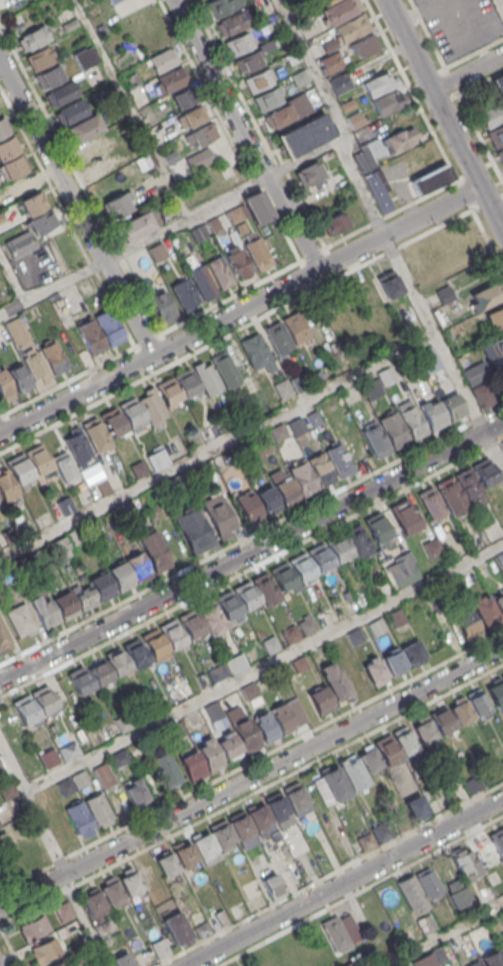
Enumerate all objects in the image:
building: (115, 1)
building: (326, 2)
building: (222, 6)
road: (499, 6)
building: (340, 11)
building: (114, 22)
building: (235, 22)
building: (273, 25)
building: (346, 31)
road: (428, 33)
building: (34, 37)
building: (240, 44)
building: (365, 45)
road: (474, 51)
building: (85, 57)
building: (292, 57)
building: (40, 58)
building: (163, 60)
building: (249, 61)
building: (331, 62)
road: (467, 72)
building: (50, 76)
building: (300, 77)
building: (171, 80)
building: (259, 80)
road: (481, 81)
building: (341, 82)
building: (378, 84)
building: (498, 84)
building: (62, 93)
building: (185, 97)
building: (268, 98)
building: (387, 102)
building: (348, 104)
road: (132, 109)
building: (71, 112)
road: (444, 115)
building: (492, 115)
building: (194, 116)
building: (278, 116)
building: (356, 120)
building: (3, 127)
building: (83, 129)
building: (204, 133)
building: (305, 134)
road: (246, 135)
building: (496, 135)
building: (400, 139)
building: (8, 147)
building: (500, 155)
building: (171, 156)
building: (200, 158)
building: (365, 159)
building: (13, 166)
building: (309, 172)
building: (430, 179)
building: (23, 186)
building: (379, 189)
road: (240, 190)
building: (32, 204)
building: (117, 205)
road: (76, 207)
building: (258, 207)
building: (236, 214)
building: (41, 222)
building: (336, 222)
building: (215, 225)
building: (135, 226)
building: (242, 228)
building: (199, 233)
building: (21, 244)
building: (157, 252)
building: (258, 252)
building: (239, 262)
building: (220, 273)
road: (12, 277)
building: (203, 281)
building: (389, 284)
building: (185, 294)
building: (371, 294)
building: (444, 294)
building: (485, 296)
road: (419, 305)
building: (163, 307)
road: (240, 309)
building: (496, 317)
building: (98, 324)
building: (294, 327)
building: (16, 331)
building: (277, 337)
building: (500, 346)
building: (256, 354)
building: (55, 357)
building: (35, 365)
building: (225, 369)
building: (19, 375)
building: (386, 376)
building: (207, 378)
building: (185, 382)
building: (297, 383)
building: (5, 387)
building: (282, 388)
building: (372, 389)
building: (168, 391)
building: (482, 394)
building: (152, 407)
building: (451, 407)
building: (130, 411)
building: (245, 413)
building: (431, 415)
building: (313, 419)
building: (411, 421)
building: (113, 422)
building: (297, 423)
building: (393, 428)
building: (211, 429)
building: (277, 434)
building: (96, 435)
building: (374, 439)
building: (260, 442)
building: (78, 447)
road: (218, 449)
building: (37, 459)
building: (156, 459)
building: (339, 459)
building: (64, 466)
building: (18, 468)
building: (320, 468)
building: (137, 469)
building: (485, 472)
building: (302, 479)
building: (176, 483)
building: (6, 485)
building: (467, 485)
building: (103, 487)
building: (285, 491)
building: (449, 494)
building: (267, 500)
building: (430, 502)
building: (246, 505)
building: (125, 508)
building: (118, 515)
building: (218, 516)
building: (403, 516)
building: (378, 529)
building: (192, 530)
building: (8, 535)
building: (72, 537)
building: (358, 541)
building: (60, 547)
building: (337, 547)
building: (432, 547)
road: (251, 550)
building: (155, 556)
building: (318, 558)
building: (500, 559)
building: (35, 560)
building: (22, 564)
building: (136, 566)
building: (300, 566)
building: (401, 571)
building: (6, 576)
building: (120, 576)
building: (283, 577)
building: (468, 577)
building: (100, 586)
building: (381, 587)
building: (265, 589)
building: (245, 596)
building: (84, 598)
building: (499, 602)
building: (65, 605)
building: (227, 605)
building: (44, 612)
building: (485, 613)
building: (396, 617)
building: (210, 618)
building: (20, 619)
building: (467, 622)
building: (190, 624)
building: (307, 627)
building: (376, 627)
building: (171, 634)
building: (291, 634)
building: (355, 636)
building: (4, 639)
building: (153, 644)
building: (270, 644)
building: (135, 653)
building: (413, 653)
building: (240, 660)
building: (117, 662)
building: (394, 662)
building: (300, 664)
road: (263, 665)
building: (98, 671)
building: (376, 672)
building: (216, 673)
building: (501, 677)
building: (80, 680)
building: (201, 680)
building: (335, 682)
building: (358, 682)
building: (250, 691)
building: (495, 694)
building: (44, 700)
building: (321, 701)
building: (478, 703)
building: (25, 709)
building: (213, 711)
building: (460, 711)
building: (281, 718)
building: (442, 721)
building: (121, 722)
building: (263, 727)
building: (175, 730)
building: (424, 730)
building: (245, 735)
building: (404, 742)
building: (228, 746)
building: (69, 750)
building: (386, 750)
building: (209, 754)
building: (48, 758)
building: (119, 759)
building: (369, 760)
building: (502, 765)
building: (191, 766)
building: (0, 767)
building: (166, 770)
road: (251, 773)
building: (352, 773)
building: (103, 776)
road: (285, 776)
building: (79, 779)
building: (335, 783)
building: (472, 783)
building: (65, 787)
building: (7, 790)
building: (135, 792)
building: (296, 801)
road: (31, 806)
building: (276, 807)
building: (416, 808)
building: (99, 810)
building: (79, 819)
building: (400, 821)
building: (262, 822)
building: (60, 827)
building: (241, 830)
building: (381, 831)
building: (220, 834)
building: (497, 841)
building: (365, 842)
building: (204, 848)
building: (184, 855)
building: (166, 864)
building: (466, 864)
building: (130, 881)
road: (344, 882)
building: (428, 882)
building: (272, 886)
building: (251, 889)
road: (360, 890)
building: (111, 891)
building: (410, 892)
building: (457, 893)
building: (92, 903)
building: (63, 910)
building: (221, 917)
road: (82, 919)
building: (425, 923)
building: (34, 928)
building: (176, 928)
building: (201, 928)
building: (335, 932)
road: (443, 934)
building: (159, 948)
building: (501, 948)
building: (45, 950)
building: (82, 952)
building: (438, 955)
building: (492, 959)
building: (122, 960)
building: (60, 963)
building: (480, 965)

